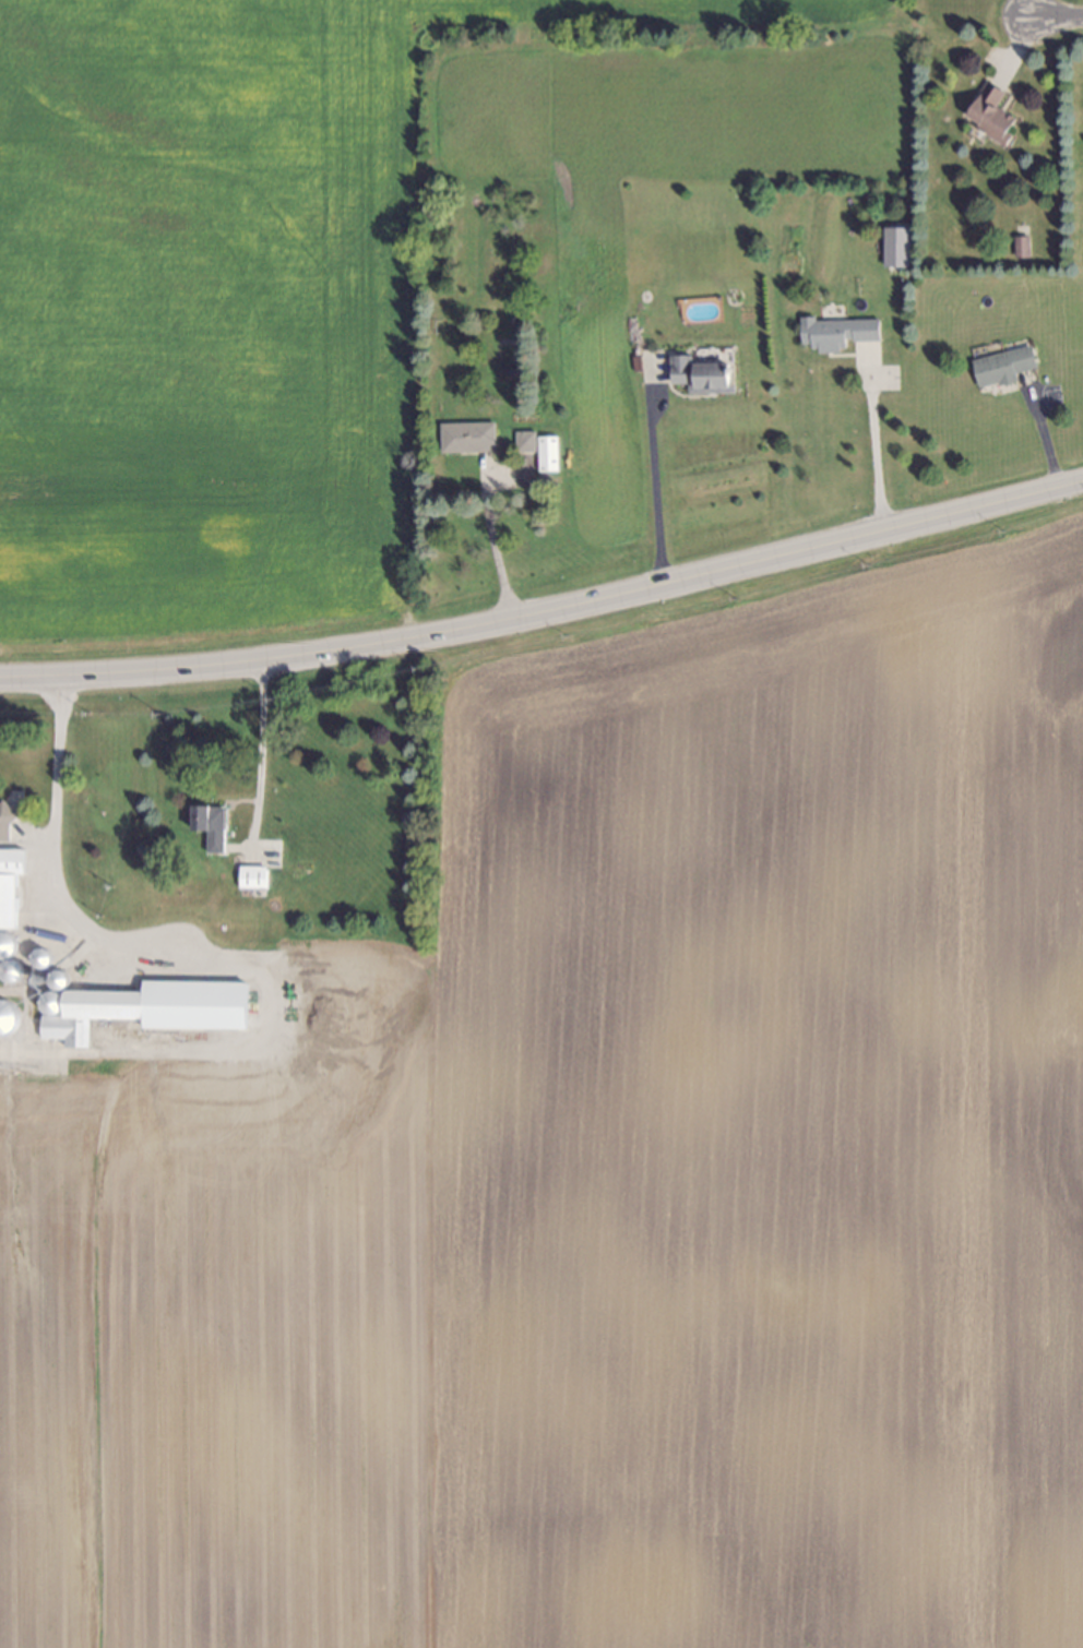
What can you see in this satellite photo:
road: (1051, 15)
building: (986, 114)
building: (894, 244)
building: (1016, 246)
building: (832, 326)
building: (999, 357)
building: (694, 373)
building: (464, 440)
building: (522, 443)
road: (872, 444)
building: (544, 457)
road: (652, 486)
road: (490, 546)
road: (546, 610)
road: (257, 726)
building: (17, 775)
road: (55, 780)
building: (4, 817)
building: (204, 824)
building: (249, 875)
building: (8, 882)
building: (5, 941)
building: (37, 955)
building: (8, 968)
building: (56, 976)
building: (48, 998)
building: (150, 1008)
building: (7, 1014)

